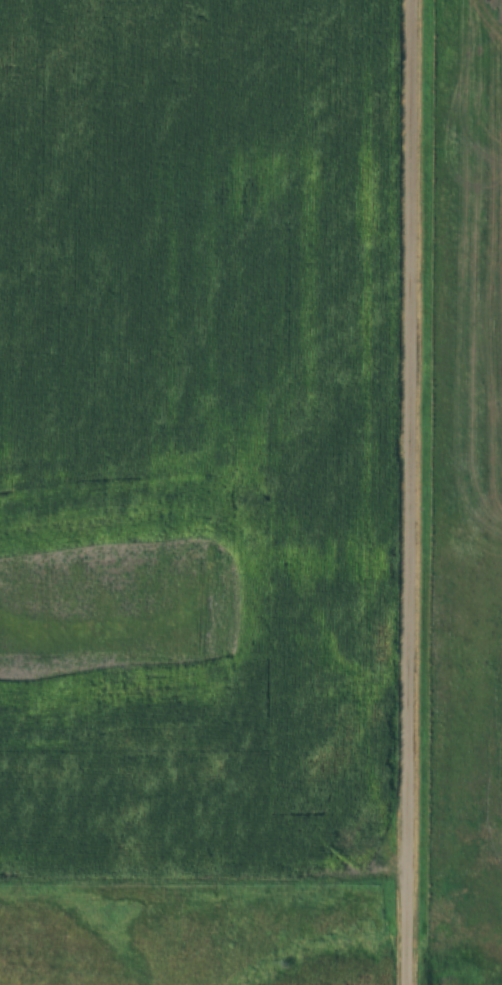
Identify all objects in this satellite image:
road: (411, 492)

